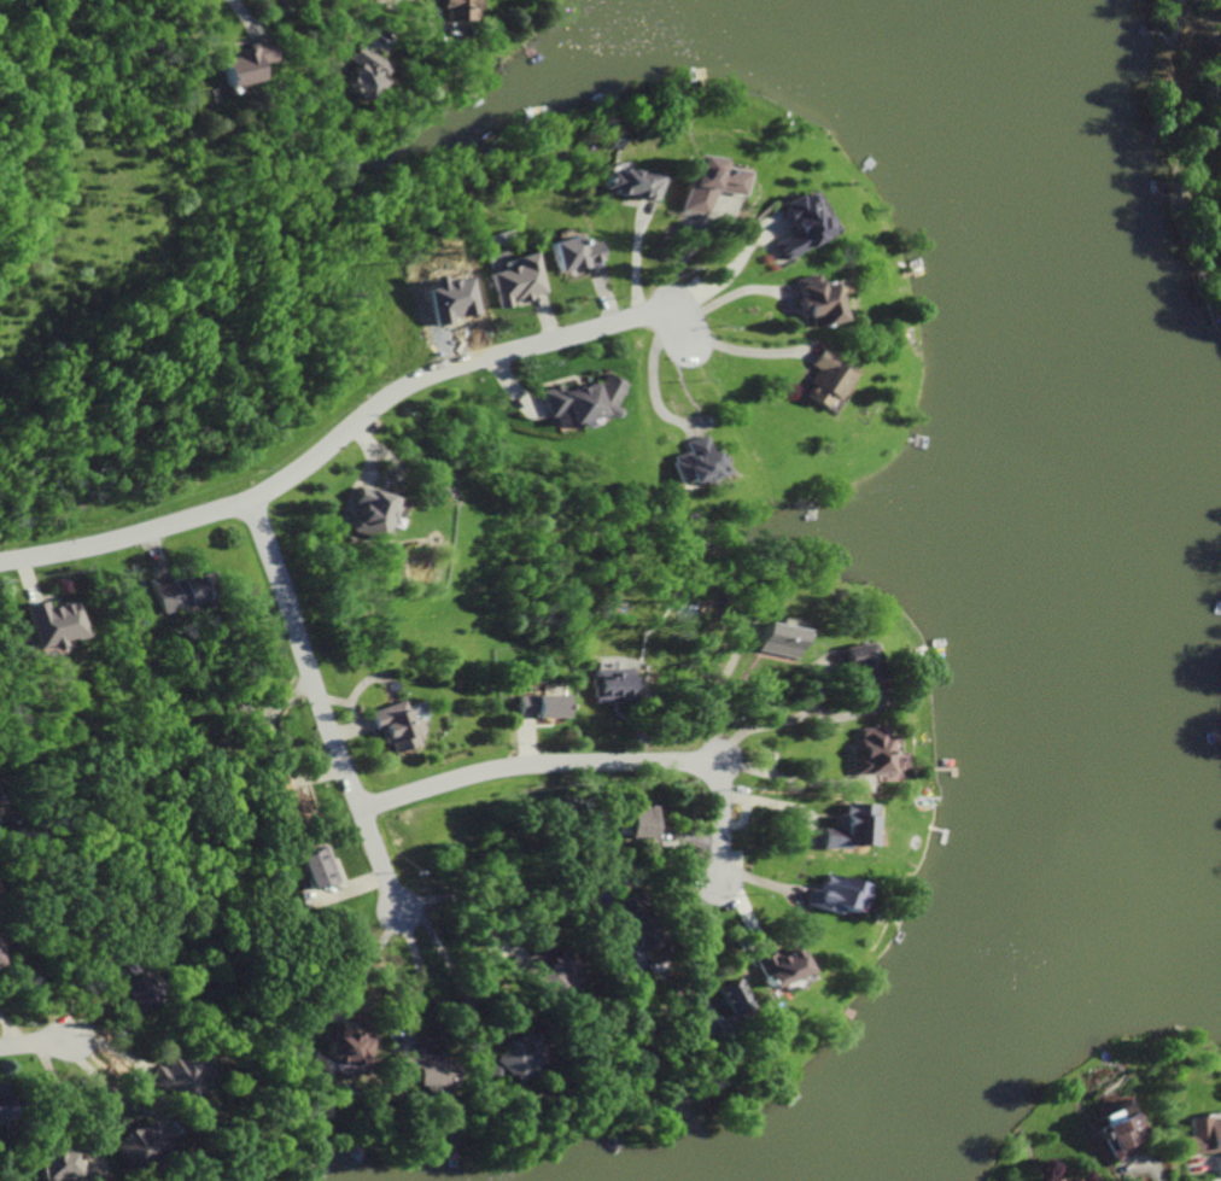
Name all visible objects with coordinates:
road: (387, 1)
building: (450, 10)
building: (230, 65)
building: (1220, 71)
building: (356, 74)
building: (1220, 125)
building: (625, 185)
building: (695, 185)
building: (785, 223)
building: (571, 253)
road: (717, 270)
building: (512, 282)
building: (818, 290)
building: (795, 302)
road: (713, 346)
road: (642, 373)
building: (572, 402)
road: (332, 440)
building: (687, 463)
building: (360, 514)
building: (163, 596)
building: (41, 624)
building: (769, 639)
building: (849, 674)
building: (603, 684)
road: (312, 703)
road: (717, 703)
building: (532, 704)
building: (391, 727)
road: (766, 730)
building: (857, 752)
road: (590, 765)
road: (777, 780)
building: (280, 799)
building: (630, 824)
building: (835, 830)
building: (309, 867)
building: (824, 894)
road: (462, 908)
building: (632, 923)
road: (700, 940)
road: (372, 964)
building: (773, 966)
road: (444, 970)
road: (411, 974)
building: (545, 975)
building: (119, 984)
building: (705, 1024)
road: (29, 1047)
building: (337, 1048)
building: (506, 1059)
building: (417, 1070)
building: (175, 1074)
road: (60, 1105)
building: (1194, 1135)
building: (1115, 1136)
building: (130, 1141)
building: (49, 1162)
road: (1141, 1173)
building: (1071, 1179)
building: (1056, 1180)

